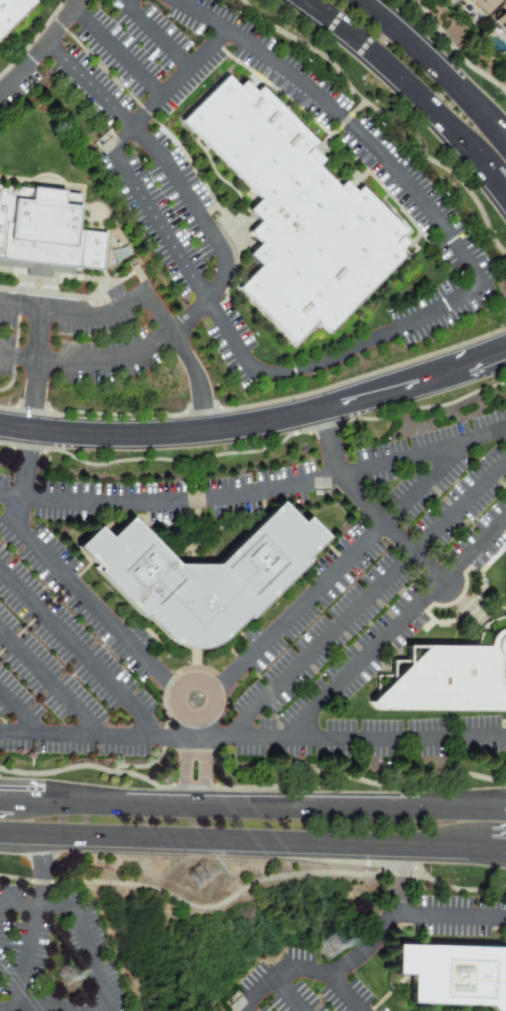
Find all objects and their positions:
building: (484, 5)
building: (13, 14)
building: (501, 24)
road: (156, 35)
road: (41, 47)
road: (116, 51)
road: (439, 66)
road: (397, 80)
road: (167, 89)
road: (343, 119)
road: (162, 159)
road: (496, 186)
building: (301, 213)
building: (49, 231)
road: (182, 265)
road: (72, 314)
road: (377, 338)
road: (187, 357)
road: (111, 359)
road: (36, 371)
road: (258, 426)
road: (27, 465)
building: (504, 478)
road: (256, 490)
road: (367, 504)
building: (200, 570)
road: (333, 571)
road: (365, 592)
road: (84, 598)
road: (394, 627)
road: (79, 653)
building: (449, 674)
road: (47, 684)
road: (210, 698)
road: (19, 714)
road: (193, 728)
road: (252, 738)
road: (203, 763)
road: (183, 764)
road: (252, 794)
road: (252, 854)
power tower: (202, 876)
road: (43, 877)
road: (451, 915)
road: (78, 922)
road: (404, 926)
road: (494, 929)
power tower: (334, 946)
road: (367, 950)
road: (25, 958)
road: (402, 960)
building: (454, 975)
power tower: (71, 977)
road: (401, 979)
road: (345, 993)
road: (256, 994)
road: (290, 994)
road: (386, 997)
road: (41, 1004)

